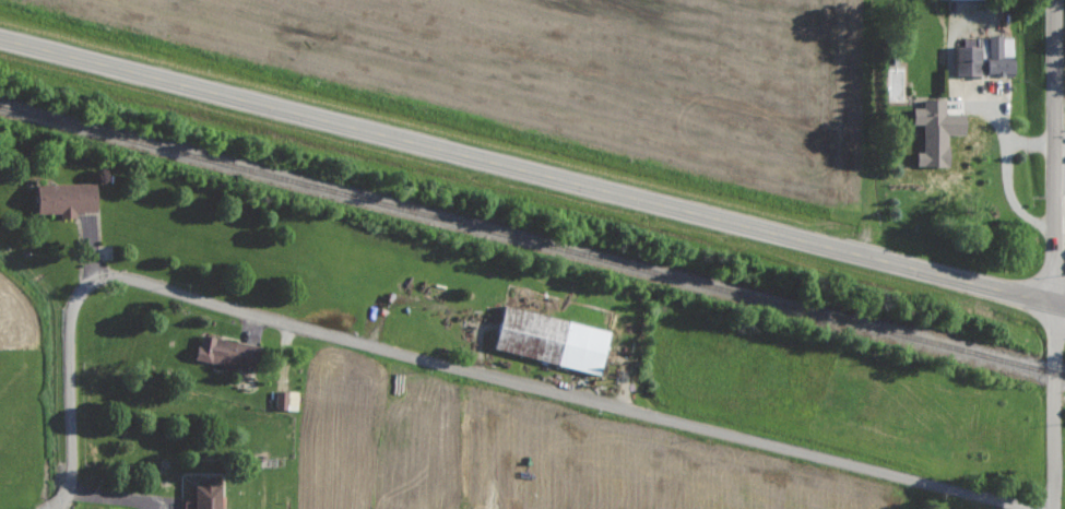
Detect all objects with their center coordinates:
building: (949, 0)
building: (989, 58)
building: (939, 132)
building: (1, 168)
road: (532, 176)
building: (70, 199)
railway: (533, 235)
road: (1053, 254)
building: (557, 340)
building: (229, 353)
road: (450, 363)
building: (287, 401)
building: (209, 494)
road: (121, 499)

